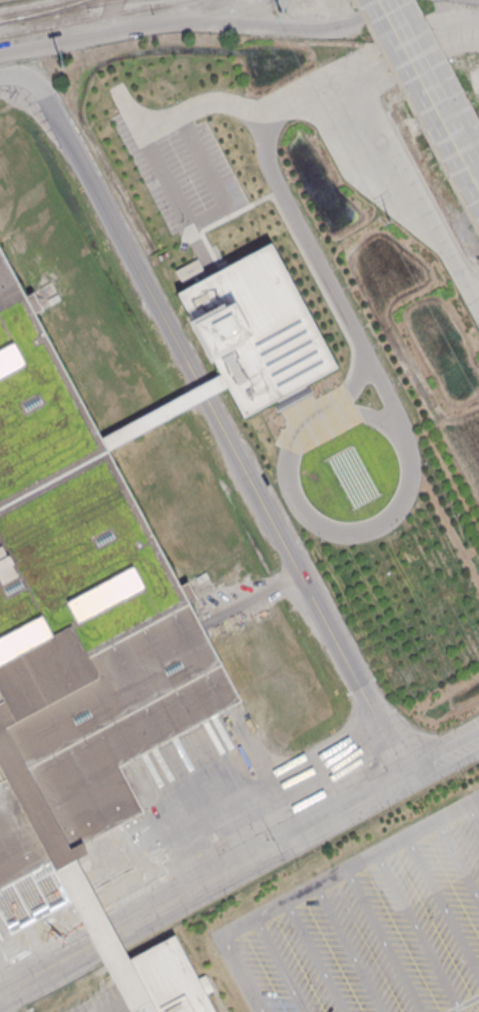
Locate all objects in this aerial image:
railway: (105, 3)
railway: (34, 6)
railway: (55, 10)
railway: (58, 11)
railway: (94, 18)
road: (203, 23)
road: (430, 90)
road: (289, 105)
road: (416, 116)
parking lot: (206, 161)
road: (204, 165)
parking lot: (147, 171)
road: (418, 192)
road: (176, 200)
road: (200, 218)
road: (109, 220)
building: (188, 270)
road: (323, 274)
building: (255, 329)
road: (352, 384)
road: (203, 389)
building: (162, 410)
road: (446, 473)
road: (310, 520)
road: (446, 527)
road: (470, 549)
road: (307, 584)
road: (250, 598)
building: (77, 645)
road: (473, 816)
road: (299, 833)
road: (458, 860)
road: (311, 886)
road: (442, 906)
parking lot: (371, 928)
road: (417, 932)
road: (104, 938)
road: (383, 940)
building: (105, 941)
road: (347, 948)
road: (314, 956)
road: (276, 965)
road: (44, 970)
building: (159, 981)
building: (203, 984)
road: (44, 992)
road: (221, 1002)
parking lot: (100, 1003)
road: (54, 1010)

